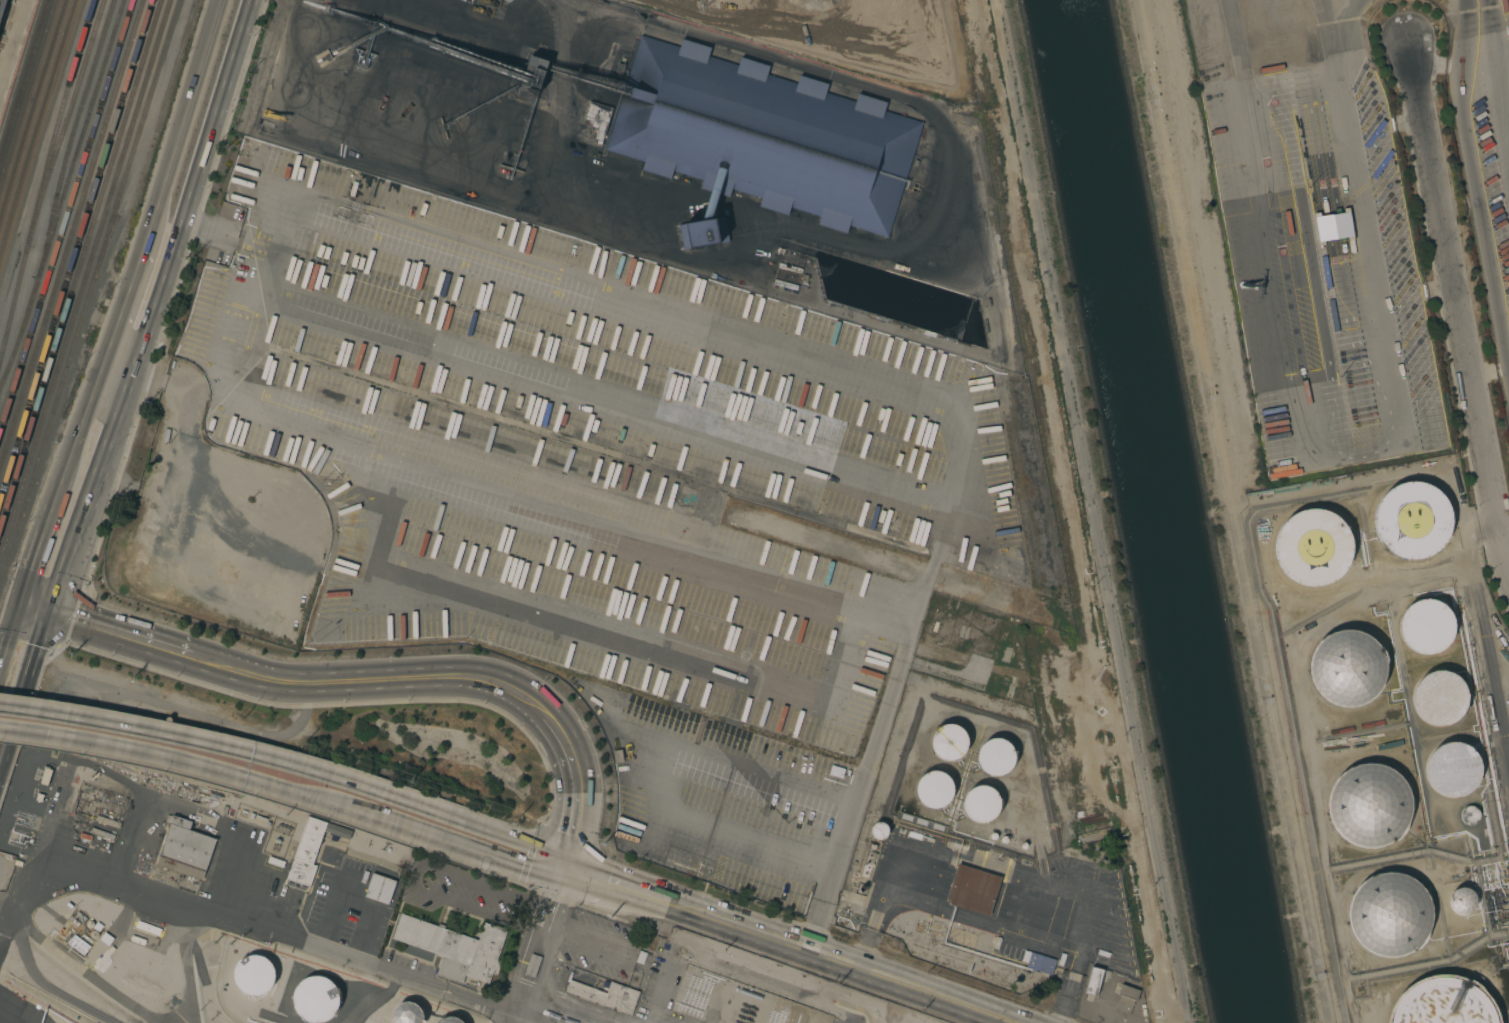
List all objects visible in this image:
road: (256, 4)
building: (1, 6)
road: (1343, 36)
road: (13, 42)
road: (1499, 74)
railway: (23, 84)
railway: (65, 98)
railway: (30, 102)
road: (915, 102)
road: (183, 109)
road: (220, 113)
building: (598, 119)
railway: (35, 120)
railway: (76, 123)
railway: (39, 137)
building: (761, 138)
building: (1282, 147)
railway: (46, 180)
road: (1475, 180)
railway: (64, 195)
railway: (66, 217)
road: (1353, 219)
road: (1275, 231)
railway: (72, 234)
road: (233, 235)
railway: (75, 251)
railway: (80, 266)
railway: (85, 280)
railway: (90, 294)
road: (160, 294)
road: (1454, 306)
road: (772, 338)
road: (103, 356)
road: (119, 364)
road: (128, 391)
building: (1421, 393)
road: (559, 506)
road: (1461, 508)
road: (1233, 511)
road: (86, 513)
building: (1411, 518)
building: (1313, 546)
road: (39, 549)
road: (36, 608)
building: (1426, 628)
road: (10, 634)
road: (134, 639)
building: (1345, 671)
road: (387, 677)
road: (26, 689)
building: (1439, 698)
building: (948, 742)
road: (241, 753)
building: (995, 756)
building: (1453, 769)
road: (237, 774)
building: (933, 788)
road: (577, 789)
building: (26, 792)
building: (980, 803)
building: (1368, 806)
building: (1469, 815)
building: (107, 822)
building: (18, 826)
building: (878, 830)
building: (100, 839)
road: (520, 842)
building: (184, 849)
building: (311, 849)
building: (868, 863)
road: (513, 866)
traffic signals: (560, 869)
road: (416, 874)
road: (617, 887)
building: (380, 889)
building: (973, 890)
building: (857, 899)
building: (1461, 900)
building: (1386, 913)
road: (249, 920)
building: (148, 928)
building: (454, 947)
road: (546, 947)
building: (1040, 962)
road: (838, 964)
building: (532, 965)
building: (254, 975)
building: (1094, 980)
building: (606, 995)
building: (313, 998)
building: (1126, 998)
wastewater plant: (1126, 998)
building: (1443, 1002)
building: (406, 1014)
building: (451, 1020)

